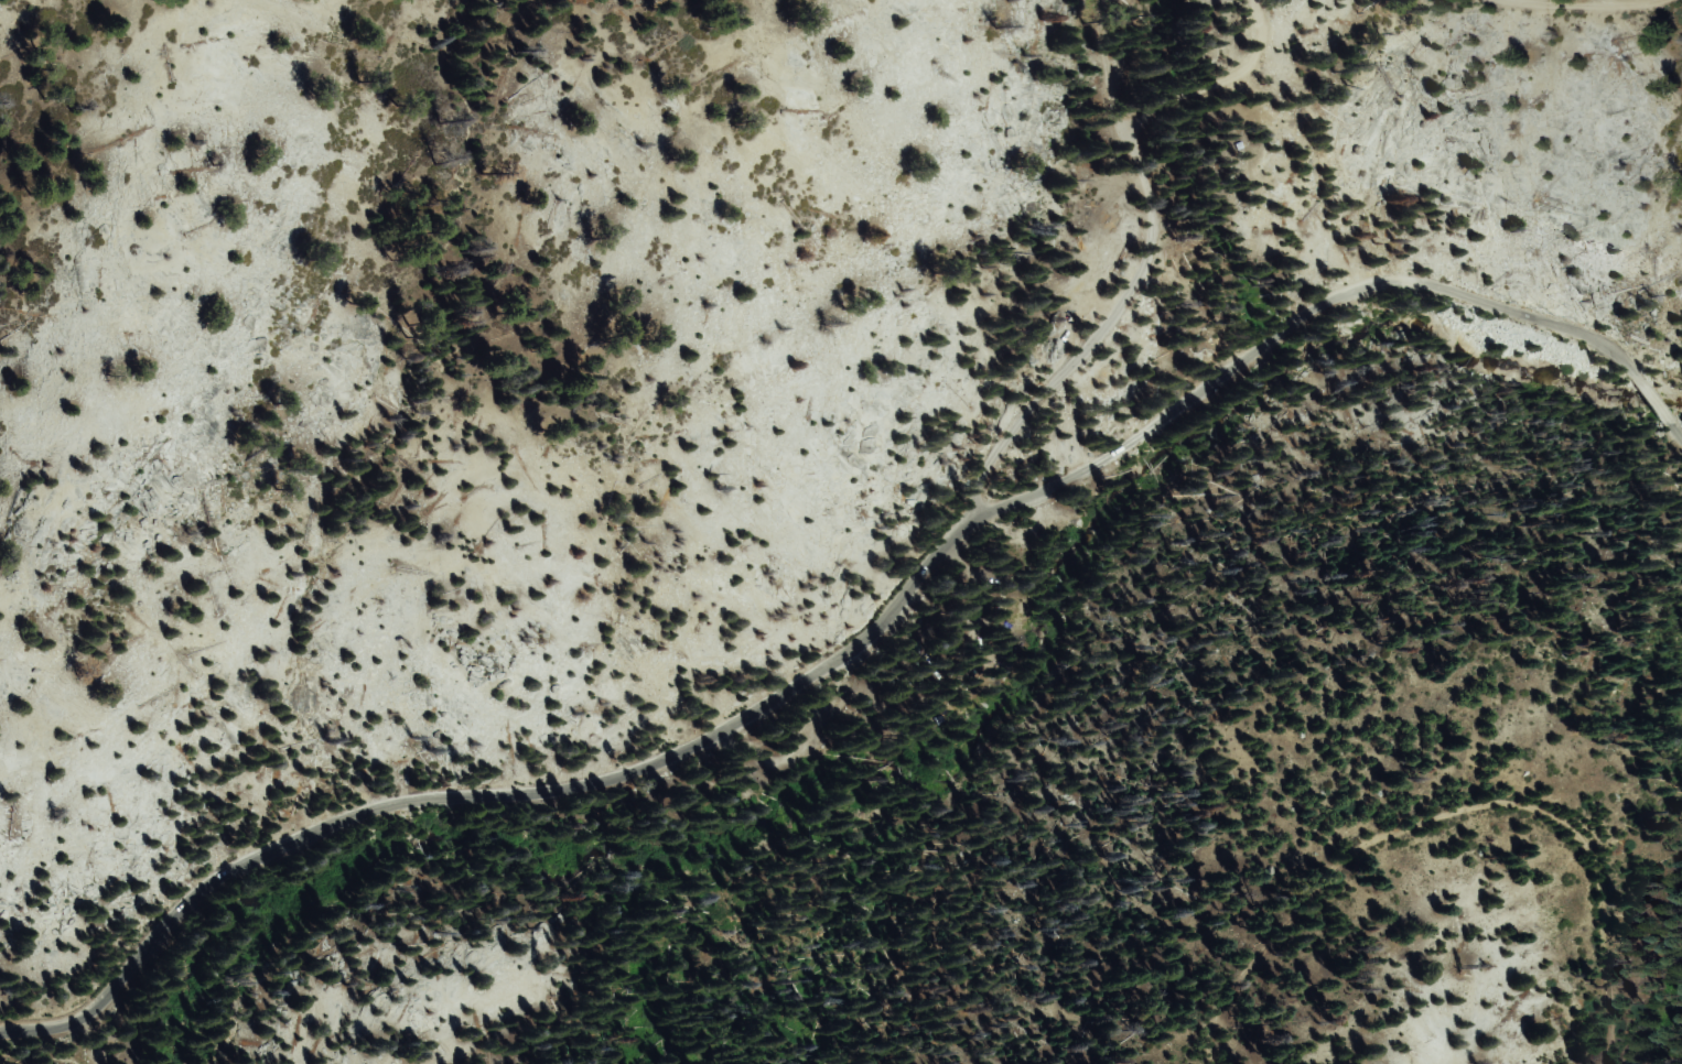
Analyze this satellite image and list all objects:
road: (1592, 4)
road: (1215, 82)
road: (1132, 285)
road: (1652, 401)
road: (1678, 435)
road: (837, 660)
road: (1571, 824)
road: (1272, 956)

